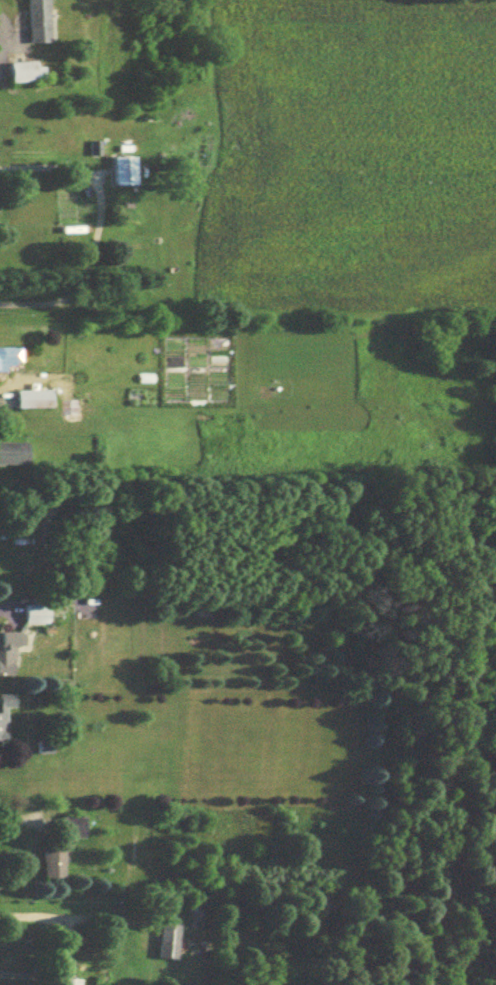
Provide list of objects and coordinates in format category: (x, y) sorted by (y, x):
building: (32, 23)
building: (19, 76)
building: (119, 175)
road: (94, 228)
building: (6, 362)
building: (30, 403)
building: (75, 416)
building: (12, 458)
road: (9, 608)
building: (32, 619)
building: (8, 656)
building: (2, 730)
road: (20, 823)
building: (68, 832)
building: (50, 868)
road: (65, 919)
building: (166, 943)
building: (2, 976)
building: (63, 984)

